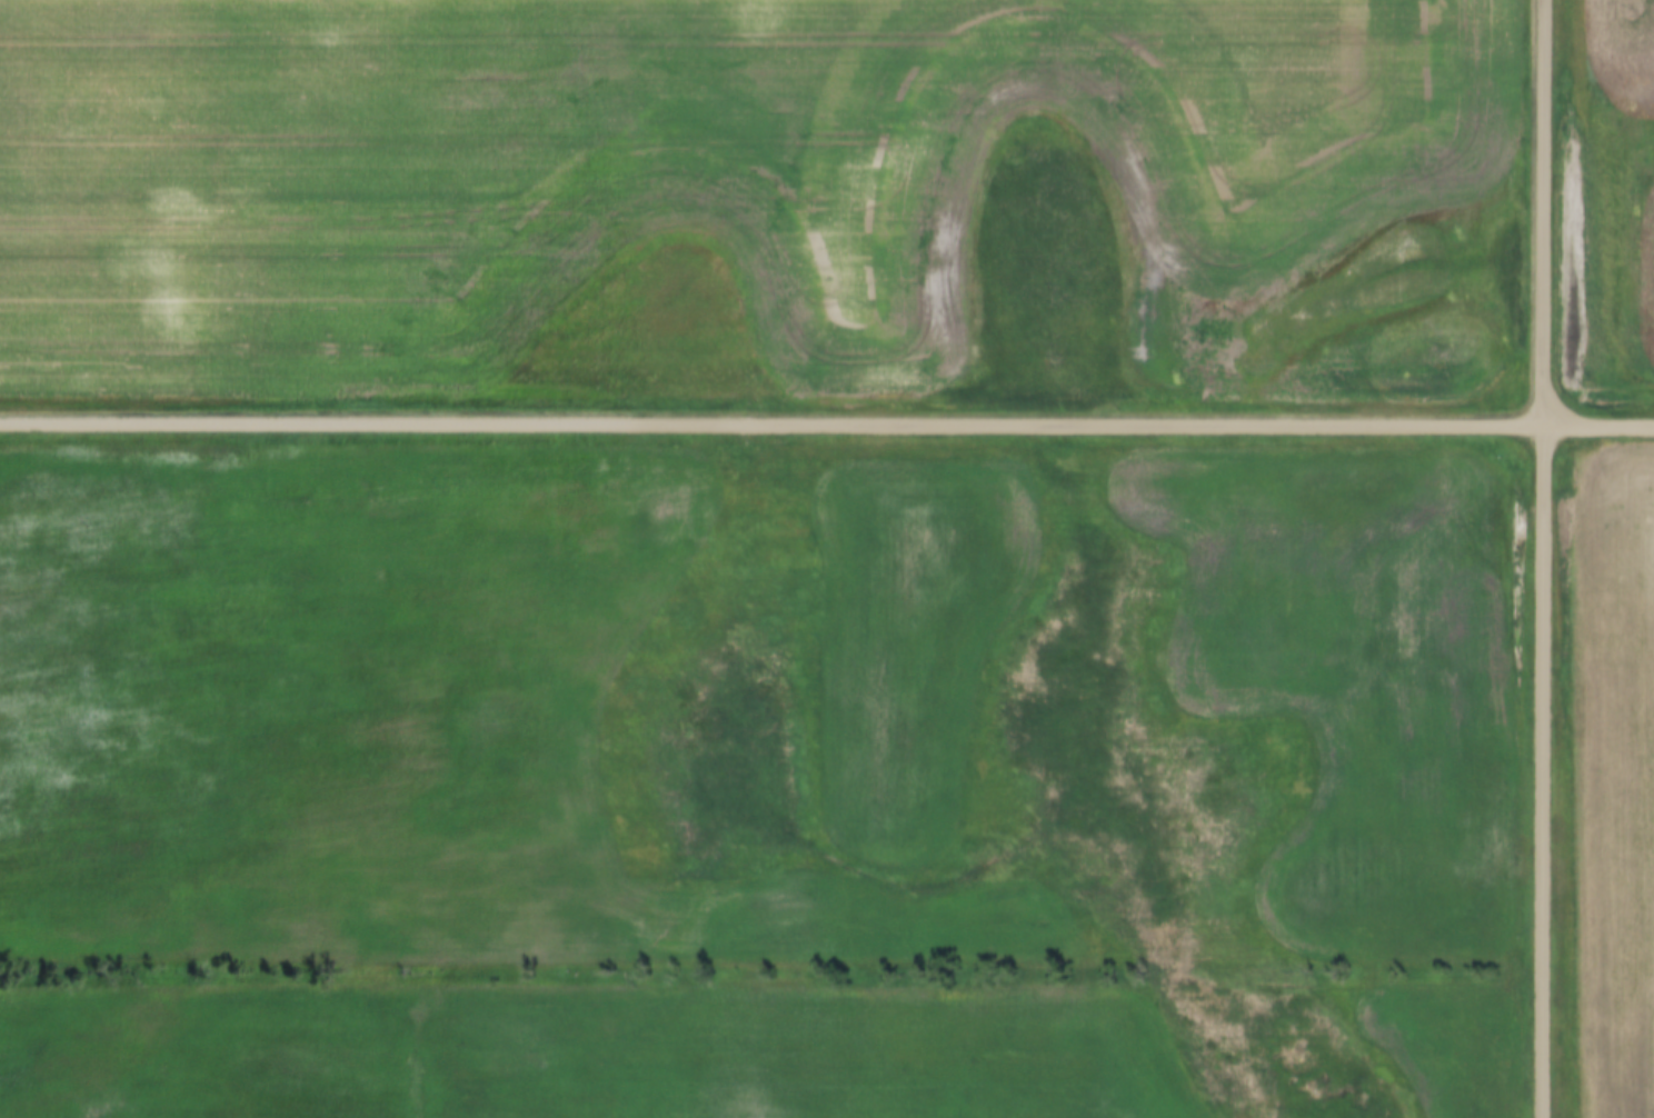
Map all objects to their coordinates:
road: (826, 422)
road: (1543, 558)

